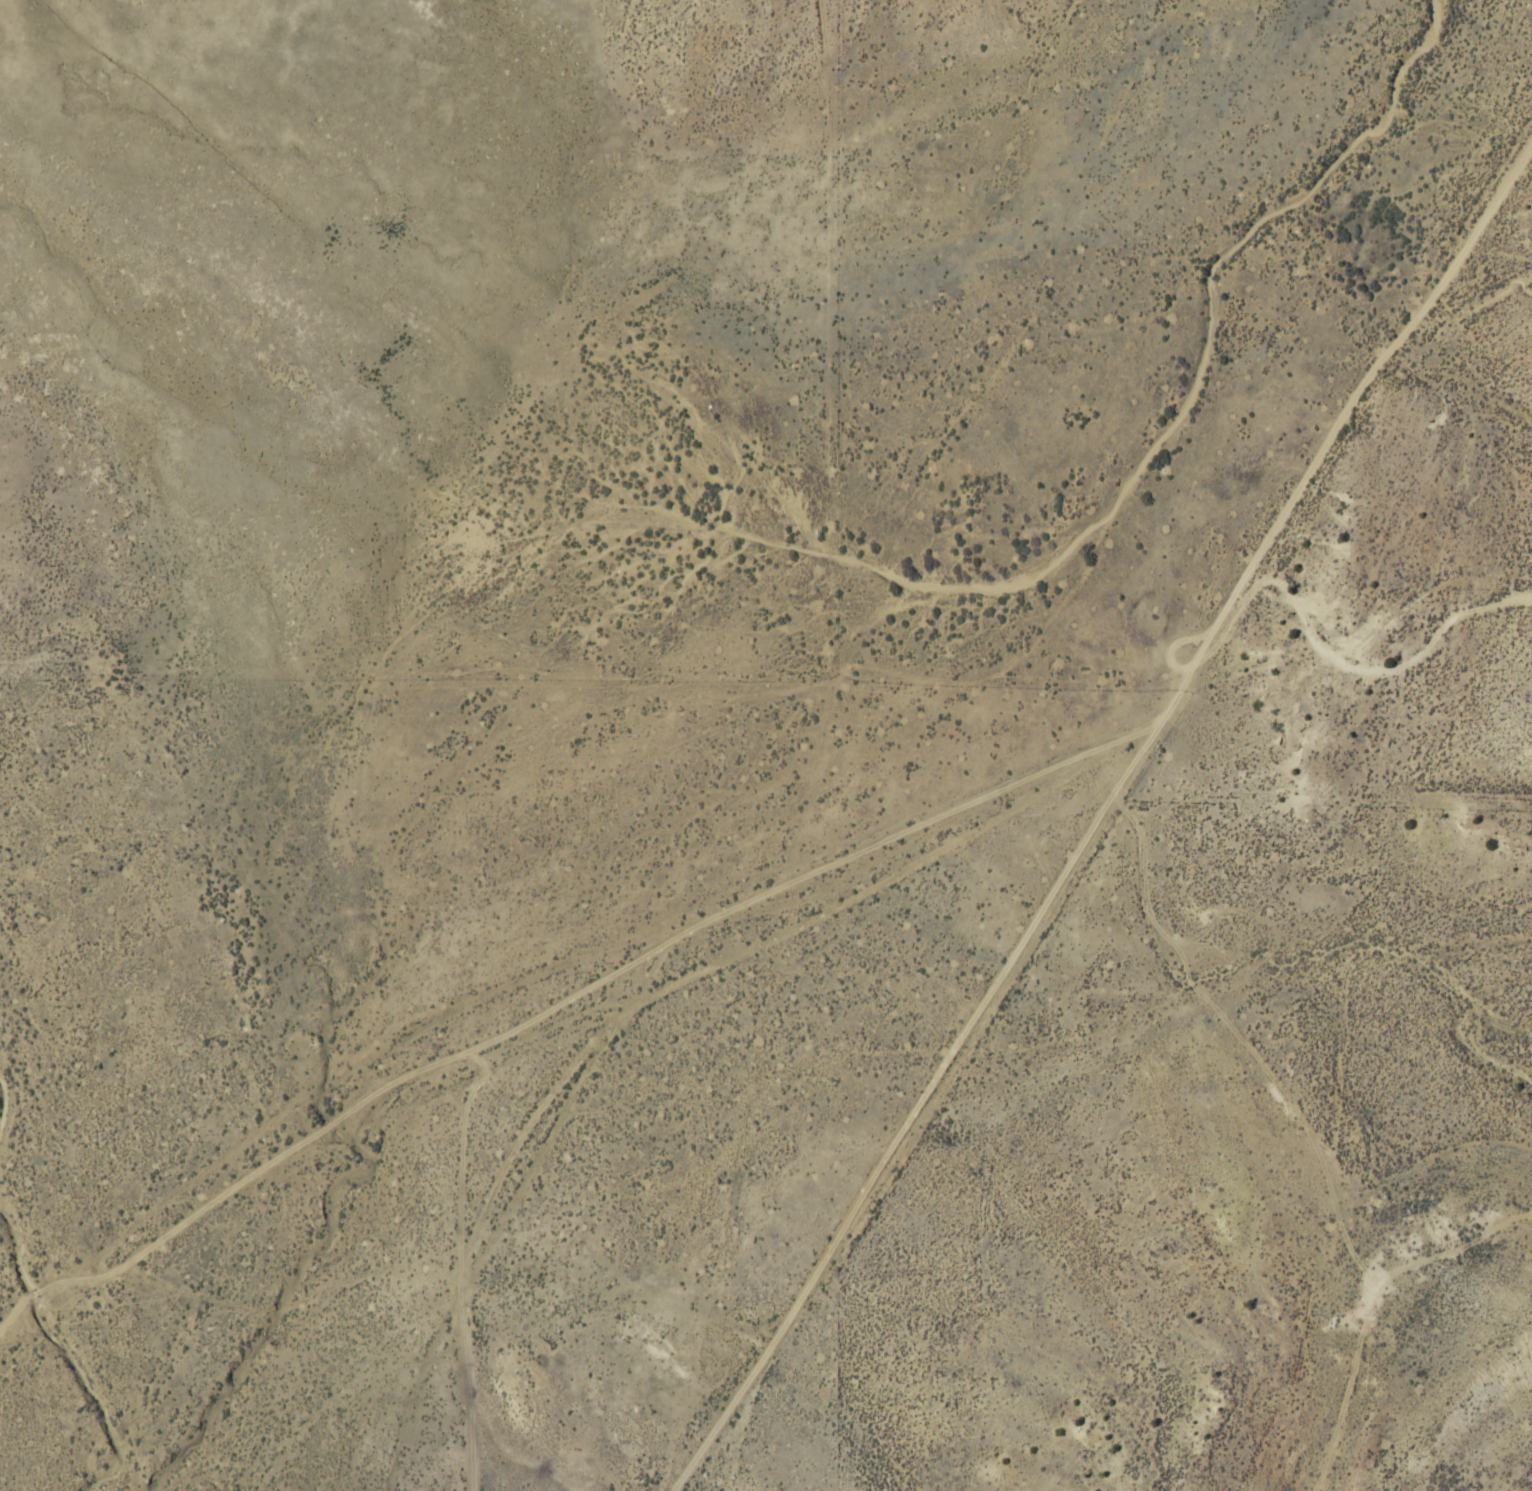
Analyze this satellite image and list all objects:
road: (1418, 312)
road: (940, 812)
road: (992, 999)
road: (349, 1112)

